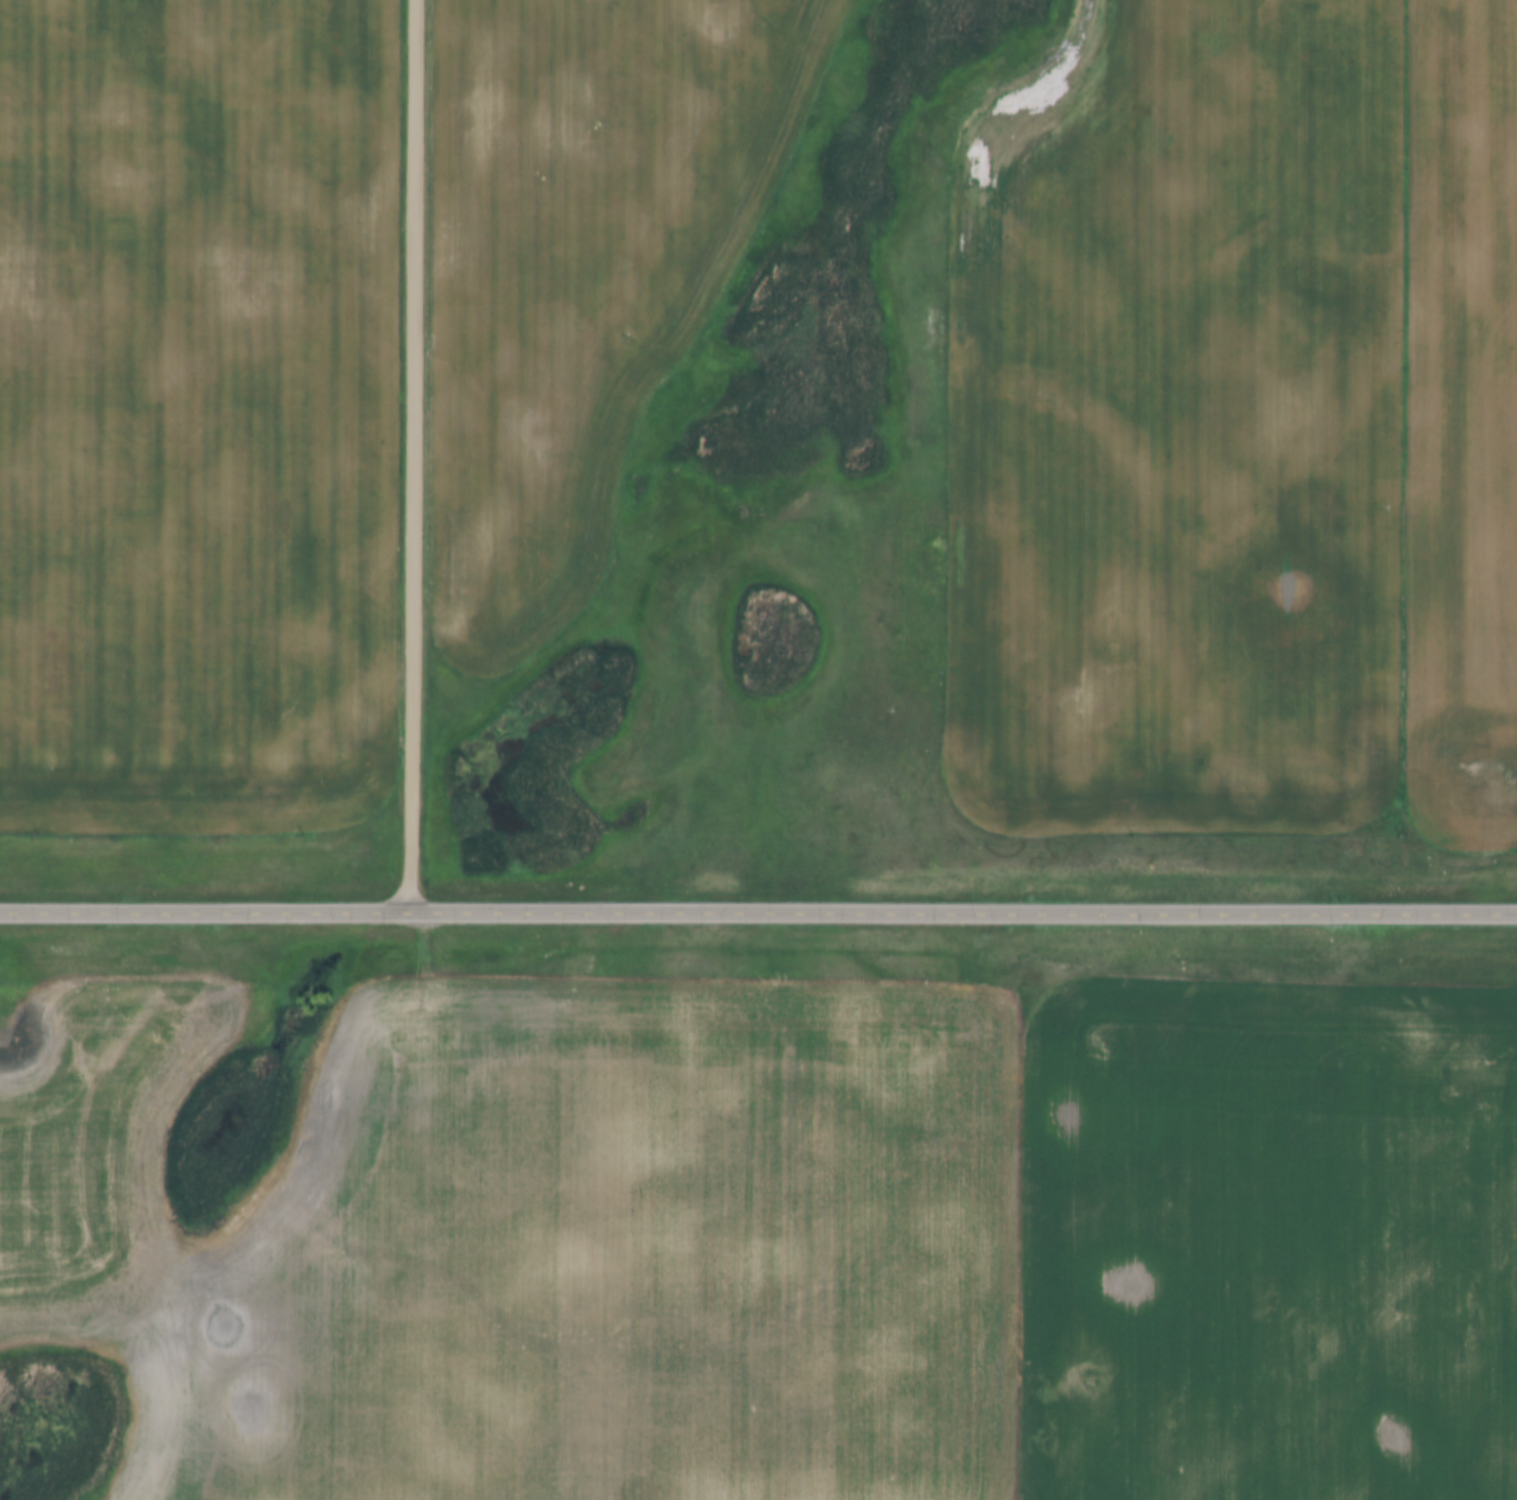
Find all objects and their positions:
road: (413, 456)
road: (758, 912)

